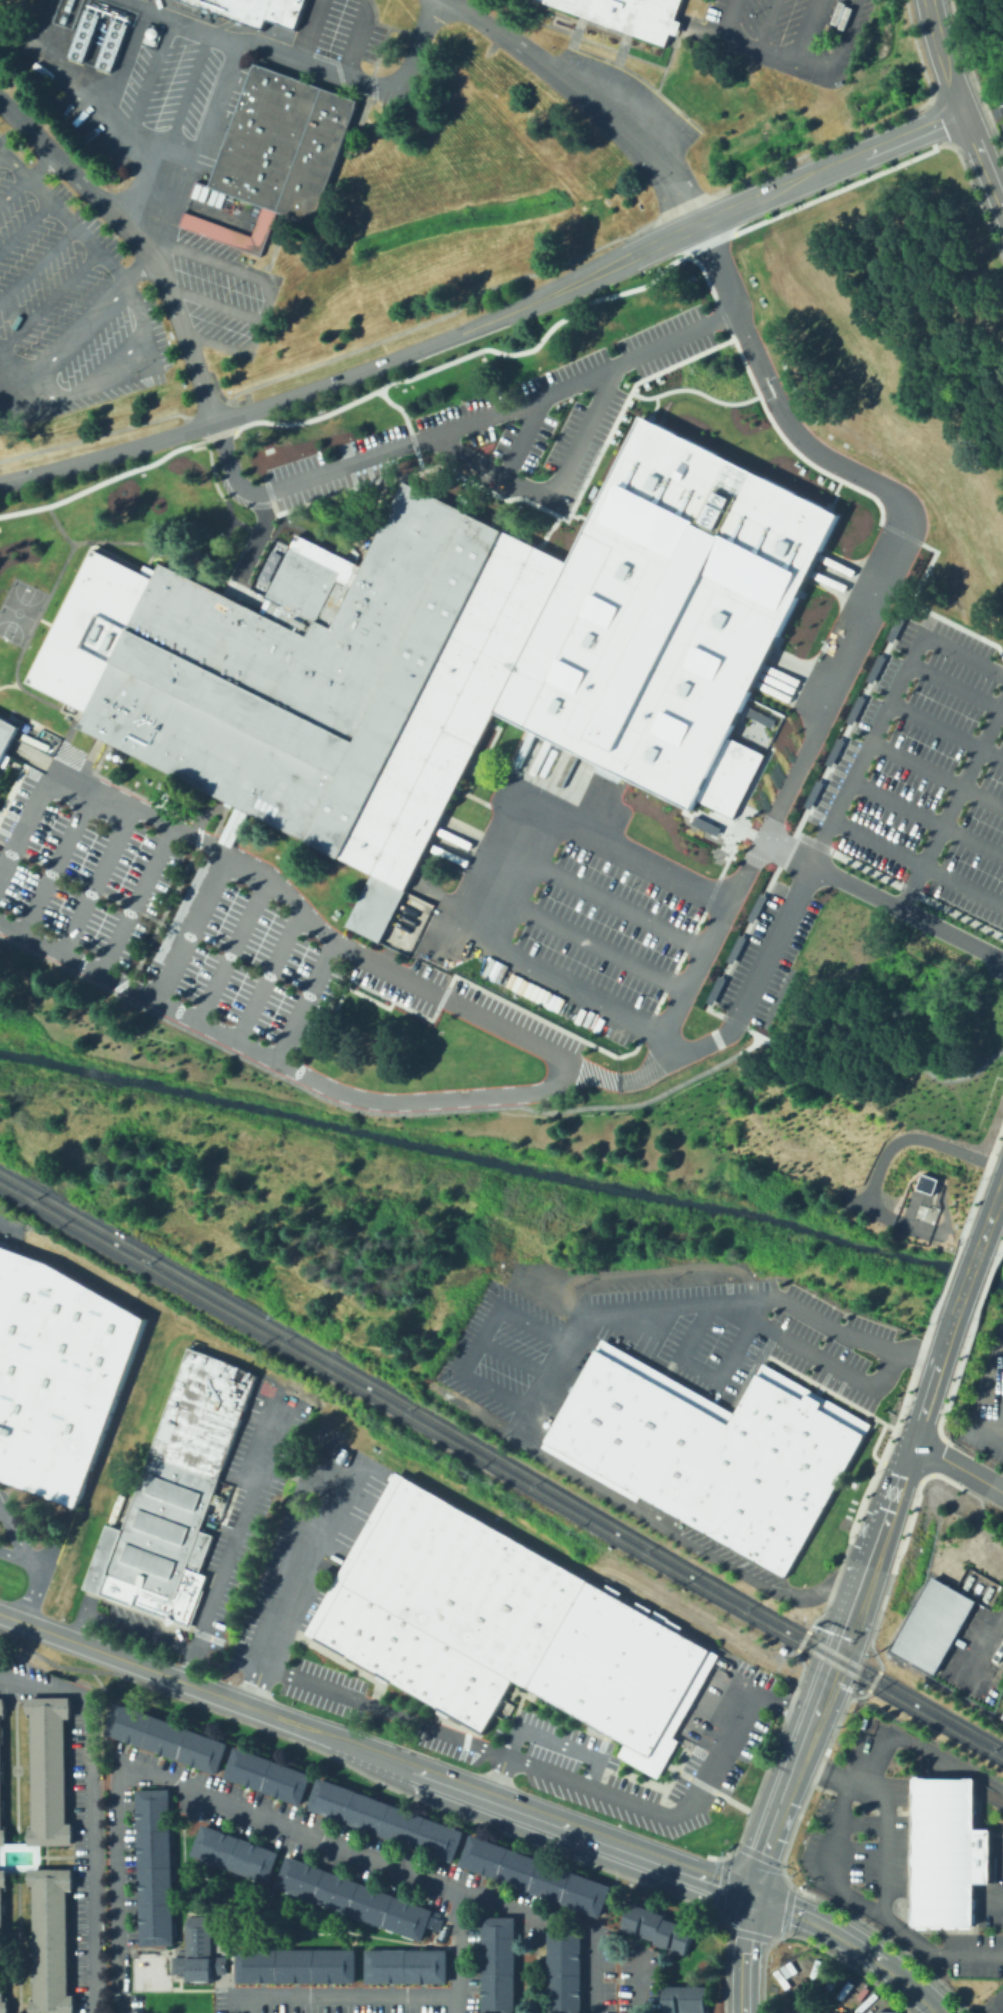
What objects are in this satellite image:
road: (0, 0)
building: (254, 10)
building: (630, 14)
road: (171, 16)
road: (729, 17)
road: (767, 24)
road: (311, 28)
road: (808, 31)
parking lot: (789, 34)
building: (98, 35)
road: (360, 37)
road: (789, 58)
road: (126, 60)
road: (345, 73)
road: (150, 77)
road: (79, 89)
parking lot: (635, 89)
road: (587, 100)
road: (959, 105)
parking lot: (1002, 106)
road: (984, 115)
parking lot: (1000, 126)
road: (173, 130)
building: (284, 144)
road: (24, 176)
road: (796, 182)
road: (194, 202)
road: (70, 219)
road: (26, 224)
road: (137, 242)
road: (38, 261)
road: (261, 278)
road: (49, 298)
road: (212, 302)
parking lot: (66, 305)
road: (98, 307)
road: (751, 344)
road: (145, 350)
road: (7, 357)
road: (321, 385)
road: (506, 411)
road: (523, 437)
road: (555, 501)
park: (18, 610)
building: (895, 627)
building: (451, 655)
building: (874, 668)
road: (898, 688)
road: (956, 688)
road: (832, 689)
building: (854, 709)
building: (759, 717)
building: (489, 724)
building: (6, 733)
road: (946, 733)
building: (833, 752)
building: (3, 759)
building: (606, 772)
parking lot: (929, 775)
road: (937, 776)
building: (457, 789)
building: (812, 794)
road: (951, 804)
road: (927, 819)
building: (705, 825)
road: (822, 842)
flagpole: (719, 851)
flagpole: (713, 852)
flagpole: (717, 857)
road: (56, 860)
road: (918, 863)
road: (477, 870)
road: (95, 879)
road: (275, 880)
road: (80, 881)
road: (598, 895)
road: (134, 898)
road: (881, 899)
building: (755, 907)
road: (166, 909)
parking lot: (170, 911)
road: (192, 927)
road: (575, 940)
road: (234, 947)
building: (735, 948)
road: (62, 955)
road: (759, 972)
road: (269, 975)
building: (715, 990)
road: (305, 1002)
road: (748, 1028)
road: (890, 1044)
road: (631, 1080)
road: (340, 1092)
road: (370, 1111)
road: (906, 1138)
building: (925, 1183)
road: (989, 1220)
road: (957, 1239)
road: (967, 1282)
road: (720, 1297)
road: (726, 1311)
road: (748, 1324)
road: (646, 1325)
road: (479, 1339)
road: (946, 1344)
road: (513, 1357)
building: (56, 1374)
road: (984, 1380)
road: (923, 1412)
road: (983, 1430)
building: (710, 1450)
railway: (501, 1459)
road: (957, 1466)
railway: (501, 1471)
road: (895, 1492)
building: (170, 1498)
road: (240, 1513)
building: (681, 1526)
road: (662, 1528)
road: (18, 1538)
road: (18, 1556)
road: (300, 1562)
road: (37, 1571)
road: (28, 1601)
building: (935, 1625)
building: (502, 1626)
road: (134, 1630)
road: (73, 1631)
road: (831, 1643)
road: (854, 1652)
road: (983, 1652)
road: (28, 1655)
road: (190, 1658)
road: (252, 1685)
road: (785, 1706)
building: (1002, 1720)
building: (165, 1737)
road: (557, 1742)
road: (376, 1754)
road: (540, 1767)
building: (50, 1771)
building: (2, 1774)
building: (266, 1774)
road: (500, 1776)
road: (404, 1794)
road: (218, 1804)
building: (79, 1806)
road: (89, 1808)
road: (884, 1810)
building: (384, 1819)
road: (776, 1821)
road: (833, 1832)
building: (233, 1852)
building: (948, 1853)
building: (154, 1866)
building: (535, 1874)
traffic signals: (753, 1893)
building: (353, 1897)
building: (657, 1928)
building: (52, 1940)
road: (854, 1941)
building: (3, 1944)
building: (198, 1947)
road: (744, 1952)
road: (453, 1953)
building: (295, 1964)
building: (498, 1964)
building: (405, 1965)
building: (563, 1971)
road: (594, 1972)
building: (146, 1973)
road: (639, 1982)
road: (339, 1995)
building: (683, 1999)
road: (250, 2004)

